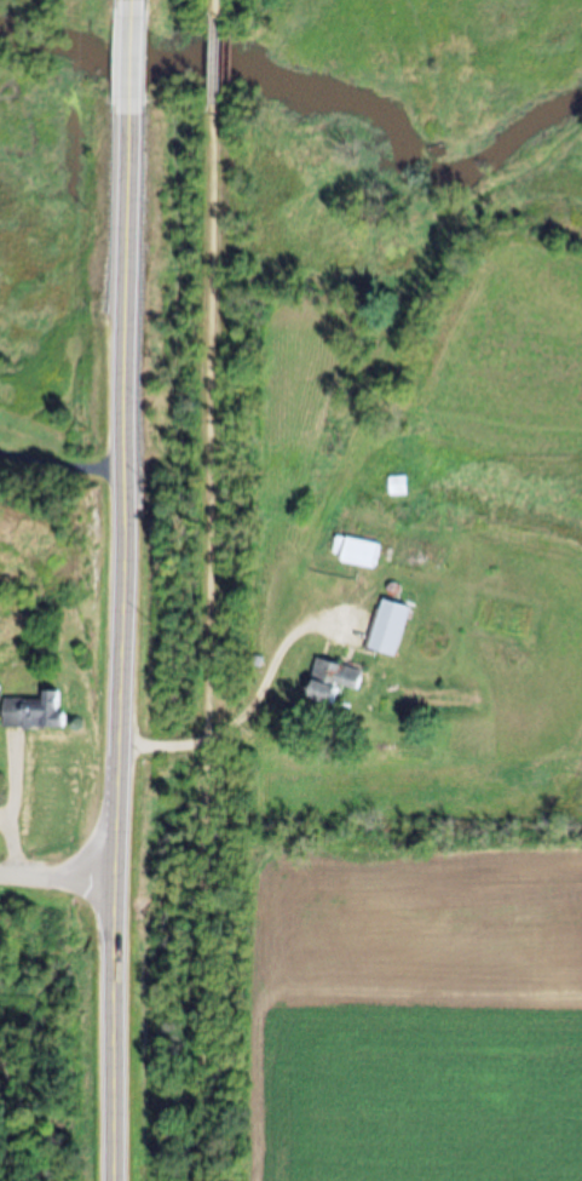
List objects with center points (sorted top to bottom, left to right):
road: (131, 6)
road: (215, 12)
road: (215, 64)
road: (131, 65)
river: (321, 94)
building: (363, 551)
building: (392, 625)
road: (214, 642)
road: (120, 649)
building: (334, 680)
building: (34, 710)
road: (58, 873)

